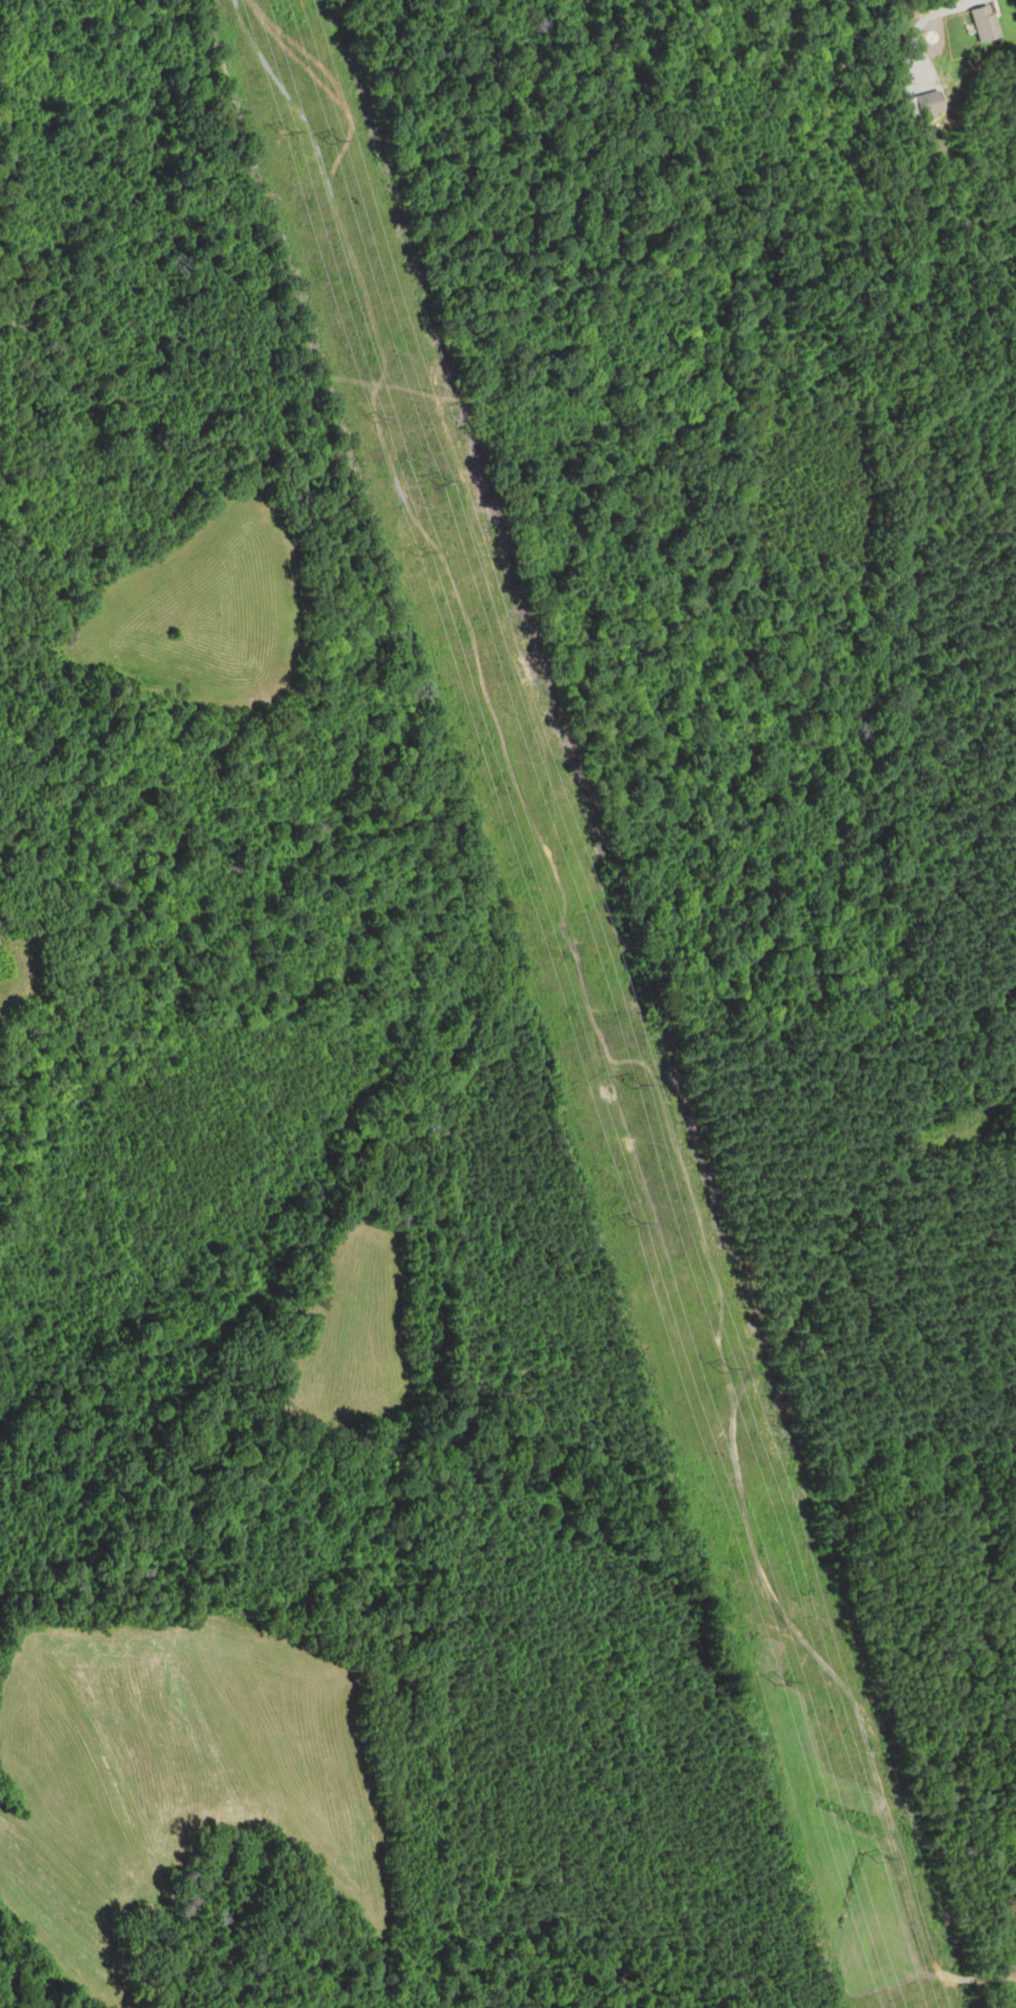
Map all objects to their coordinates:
road: (918, 22)
building: (985, 25)
building: (928, 103)
power tower: (267, 130)
power tower: (337, 142)
power tower: (443, 485)
power tower: (399, 550)
power tower: (644, 1086)
power tower: (611, 1223)
power tower: (726, 1362)
power tower: (822, 1671)
power tower: (757, 1679)

